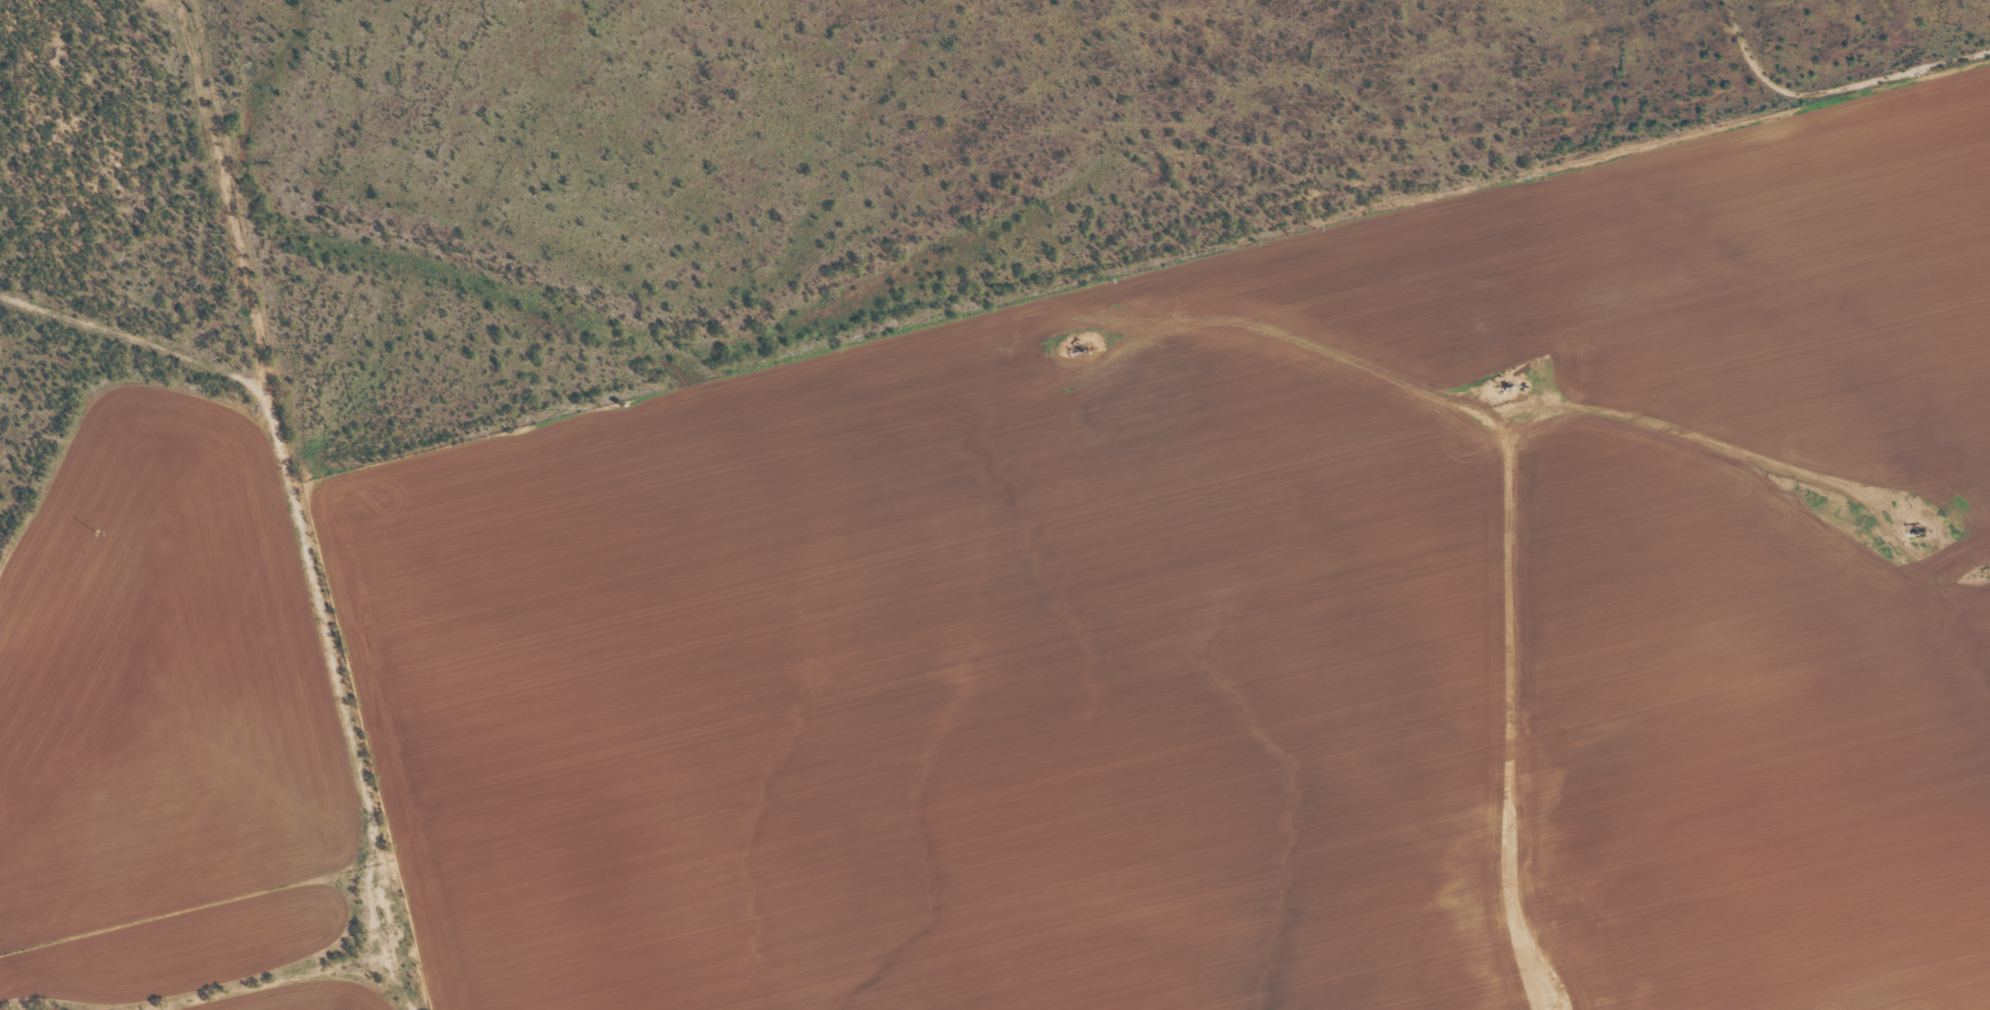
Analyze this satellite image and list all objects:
petroleum well: (1084, 351)
petroleum well: (1512, 389)
road: (1800, 471)
petroleum well: (1925, 530)
road: (339, 537)

